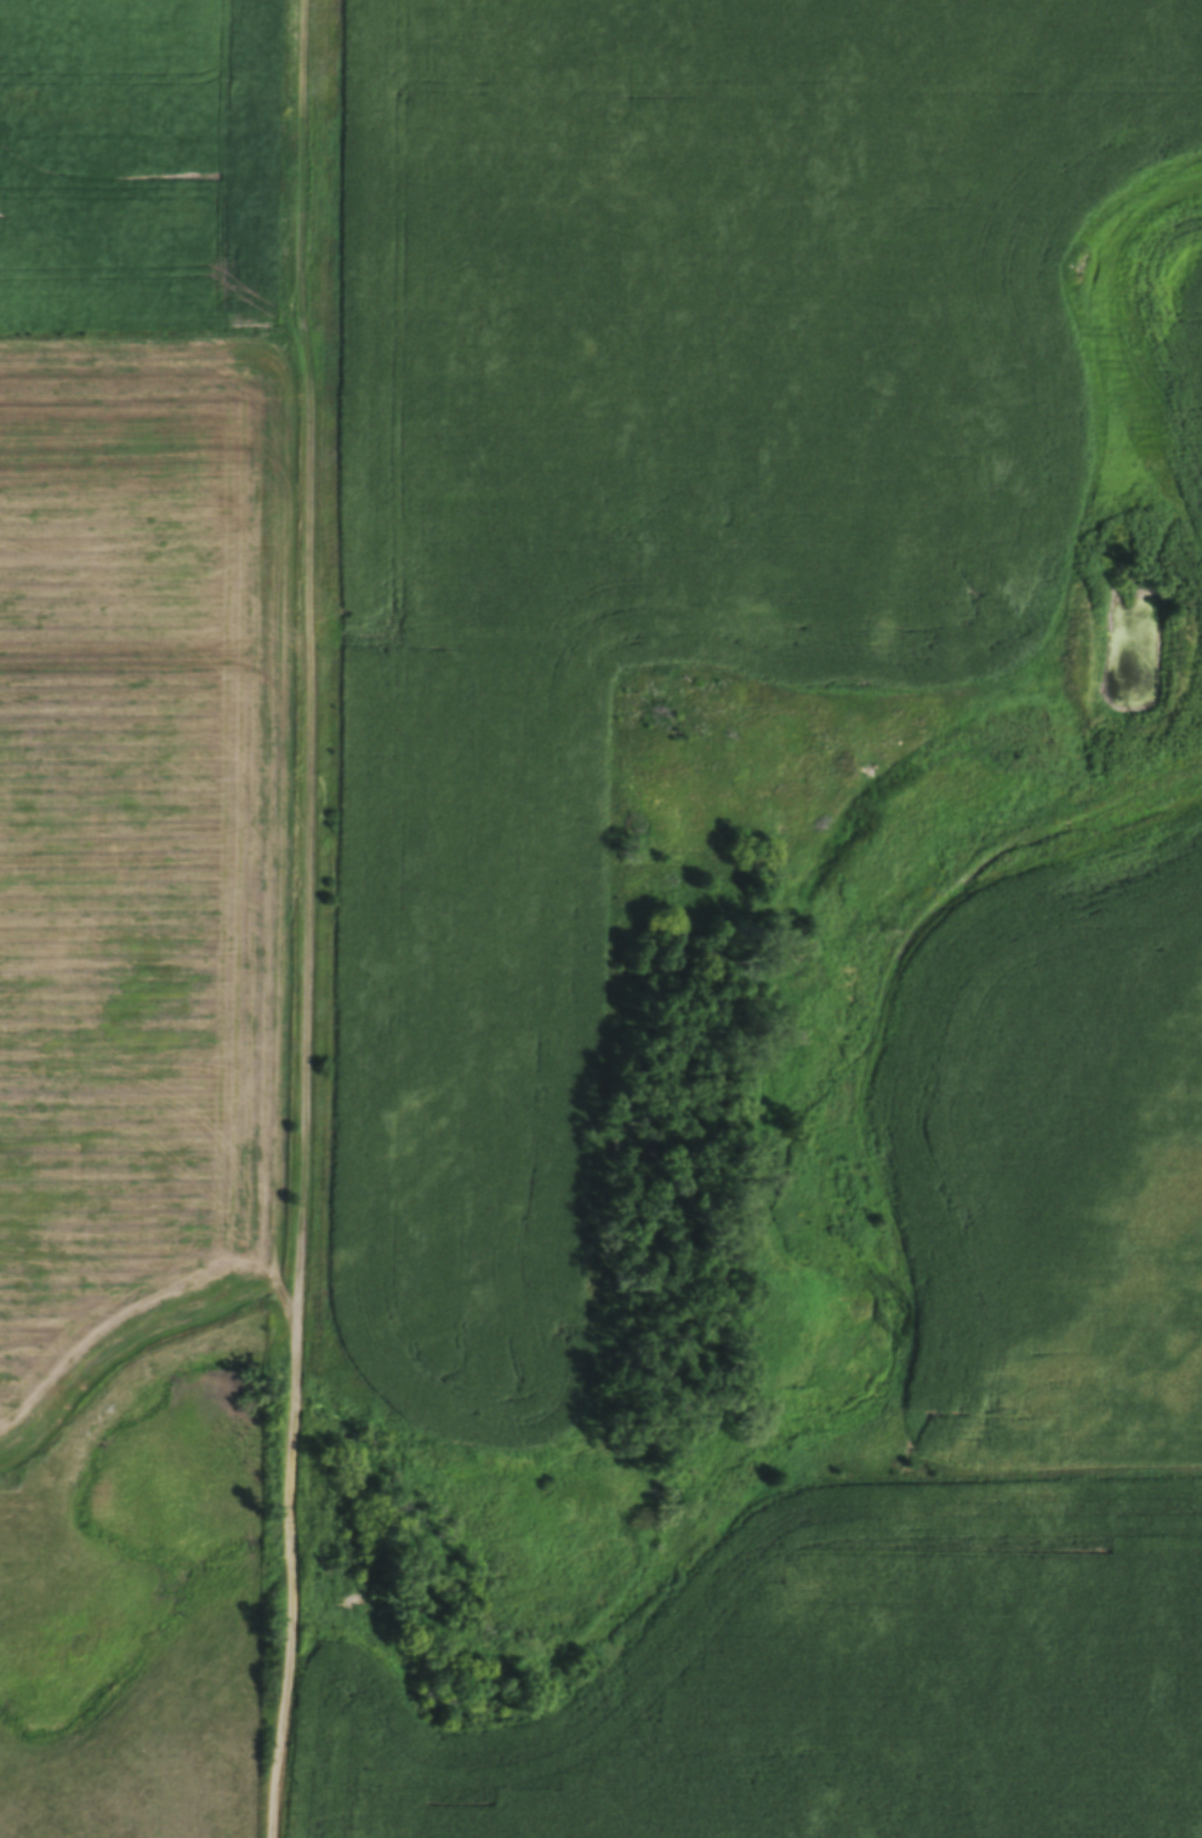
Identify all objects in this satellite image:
road: (300, 918)

